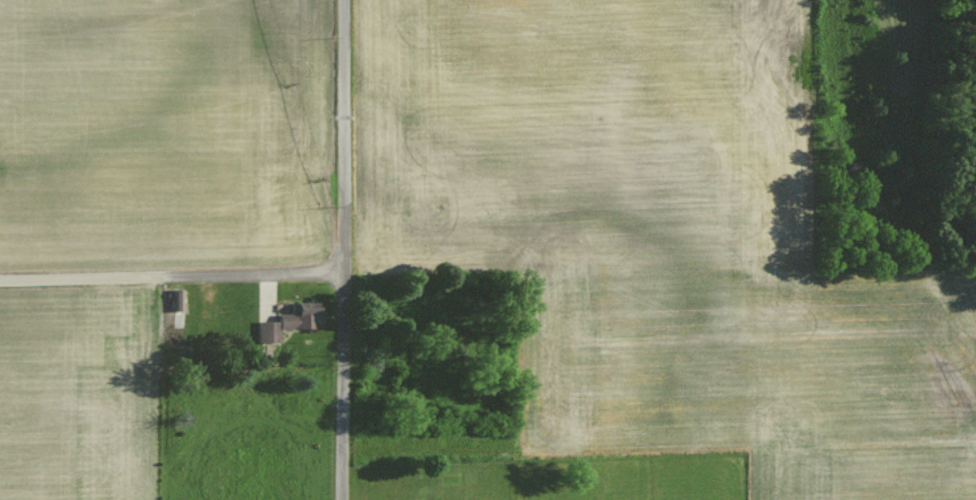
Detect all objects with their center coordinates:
road: (341, 250)
road: (171, 273)
building: (285, 322)

